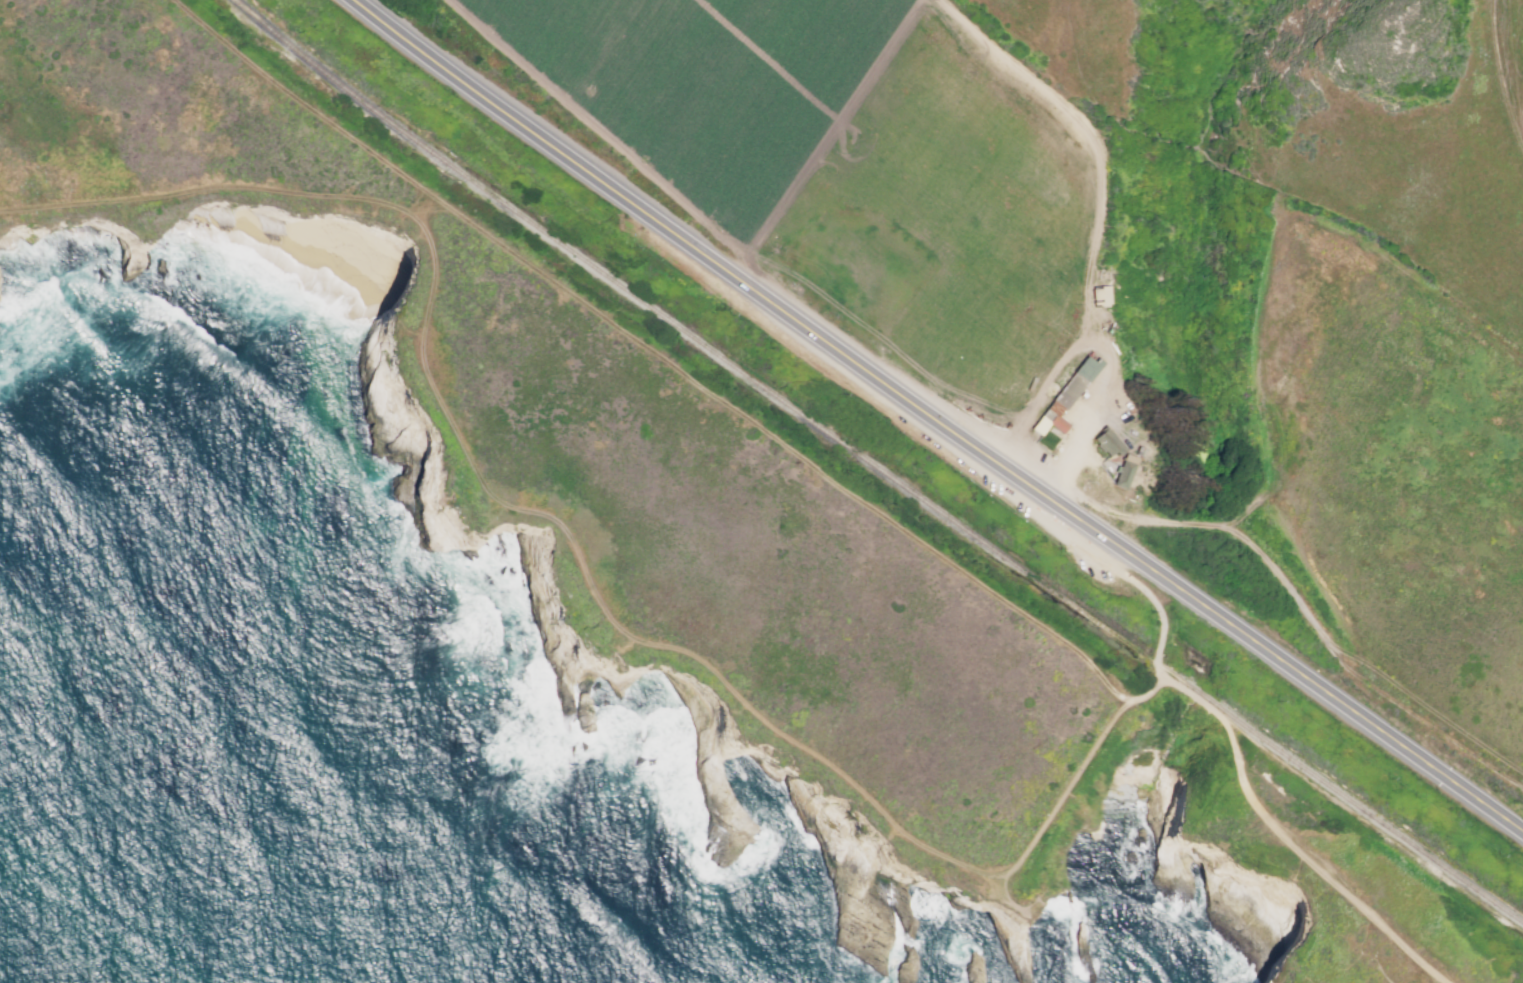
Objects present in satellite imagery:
road: (1500, 72)
road: (303, 101)
crop: (844, 148)
road: (213, 185)
road: (1096, 198)
road: (429, 212)
road: (1289, 220)
building: (1100, 297)
road: (405, 329)
road: (1317, 332)
building: (1064, 399)
parking lot: (1076, 408)
road: (1088, 414)
road: (933, 421)
road: (993, 436)
building: (1107, 444)
road: (787, 447)
railway: (876, 466)
parking lot: (980, 475)
building: (1123, 475)
crop: (1416, 496)
park: (758, 565)
road: (1291, 591)
road: (1162, 632)
road: (705, 665)
road: (1160, 672)
road: (1434, 728)
road: (1125, 735)
road: (1216, 791)
road: (1218, 821)
road: (1247, 824)
road: (1283, 840)
road: (1296, 864)
road: (1290, 874)
road: (1323, 892)
road: (1305, 976)
road: (1435, 979)

